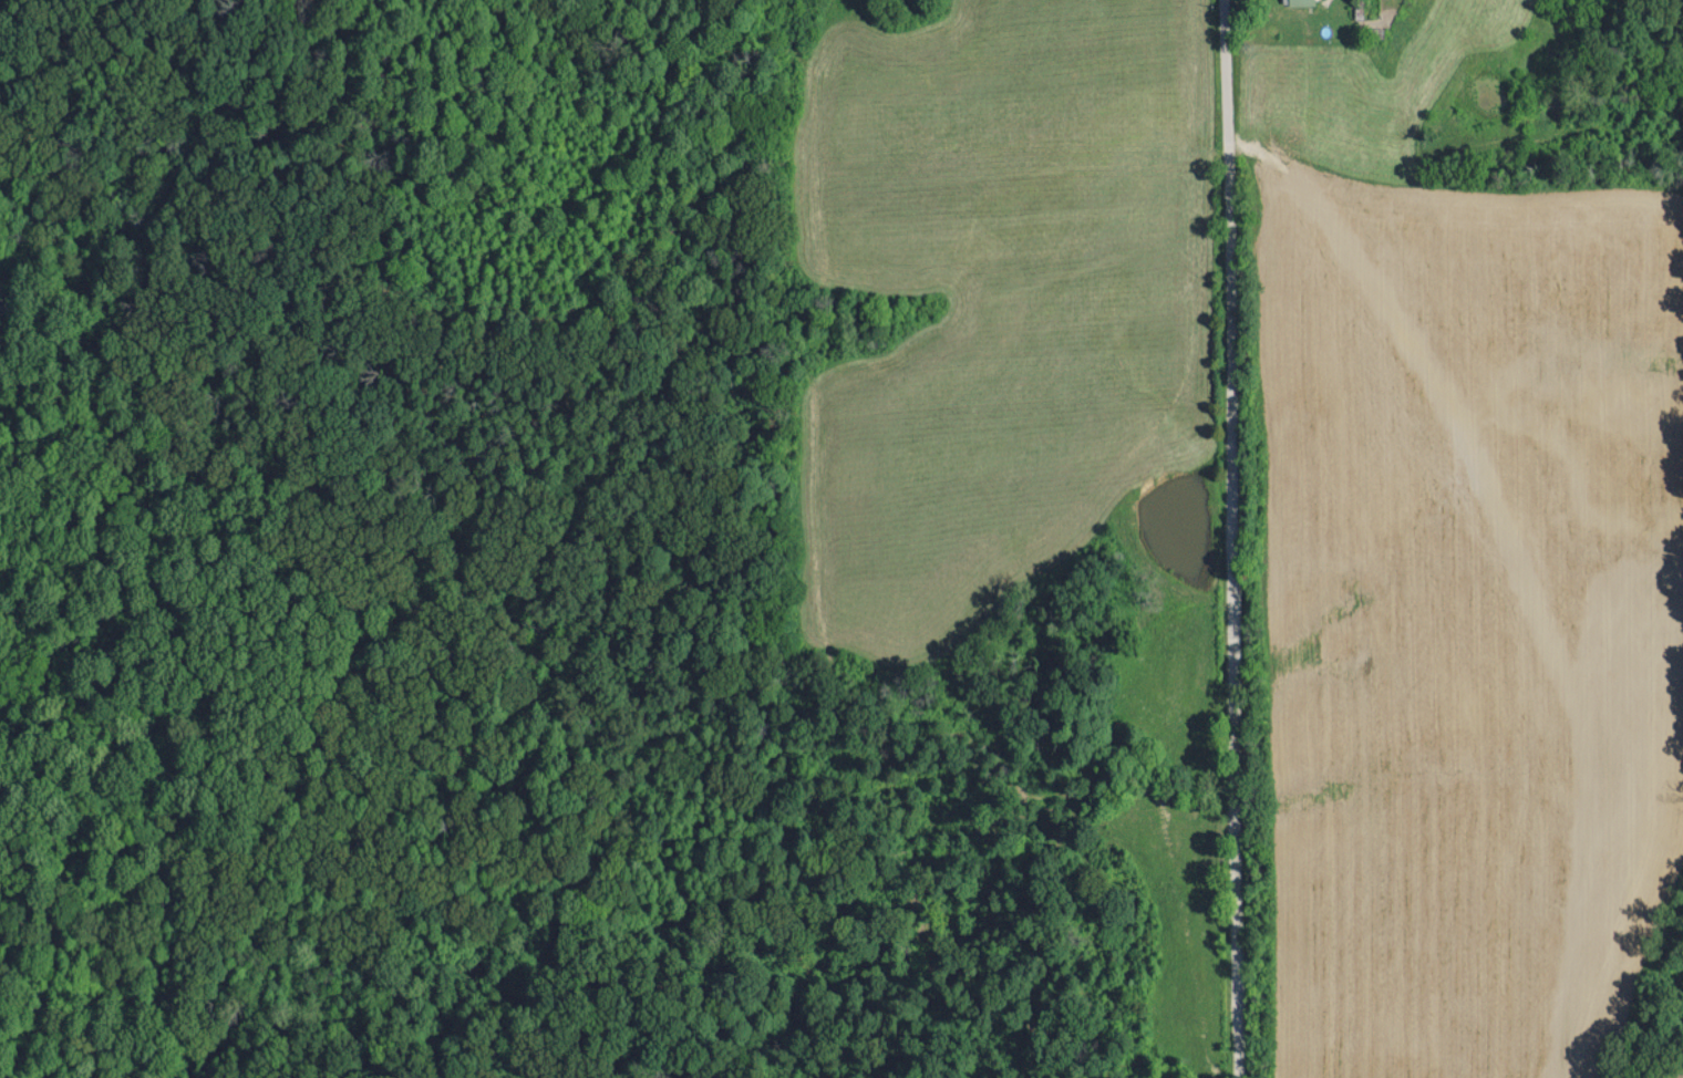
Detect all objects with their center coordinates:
building: (1298, 2)
road: (1221, 4)
road: (1230, 543)

